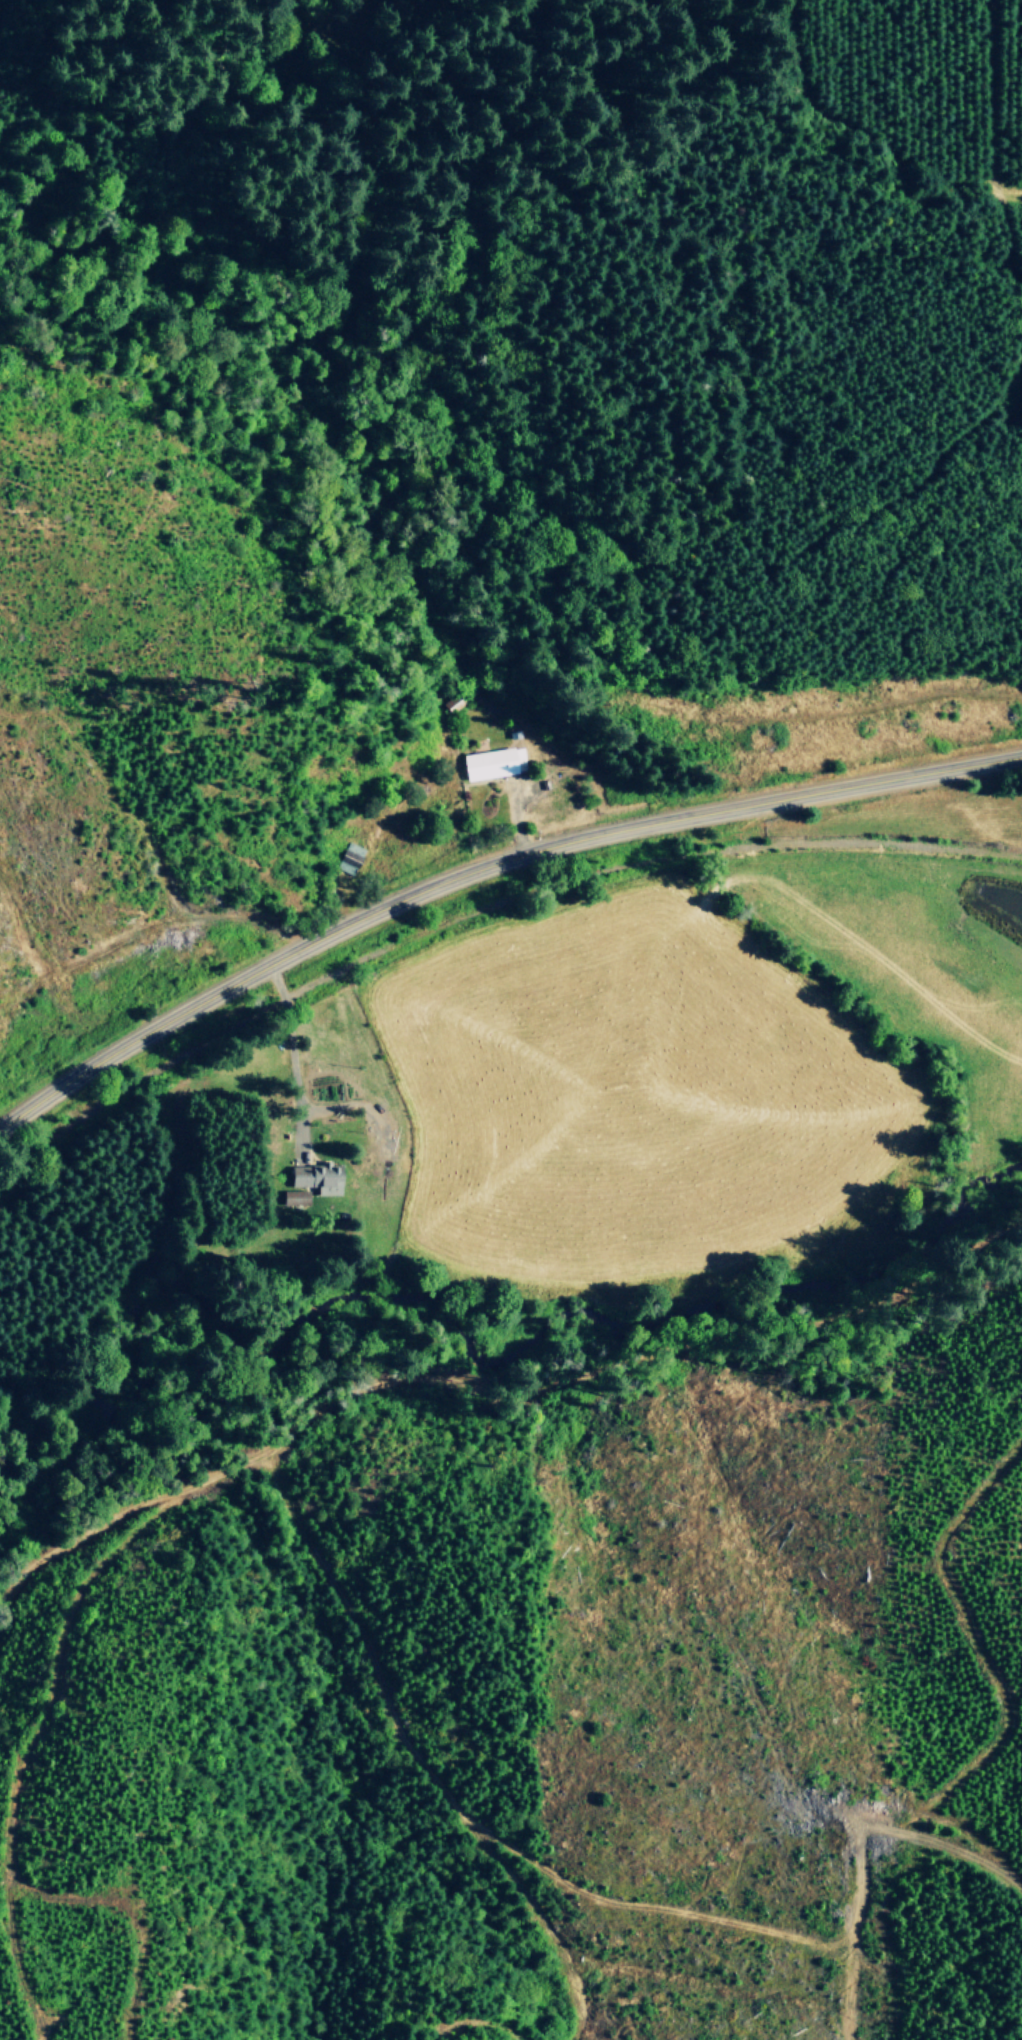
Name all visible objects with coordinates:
building: (492, 763)
road: (482, 865)
railway: (479, 908)
road: (290, 1060)
building: (317, 1177)
building: (298, 1197)

